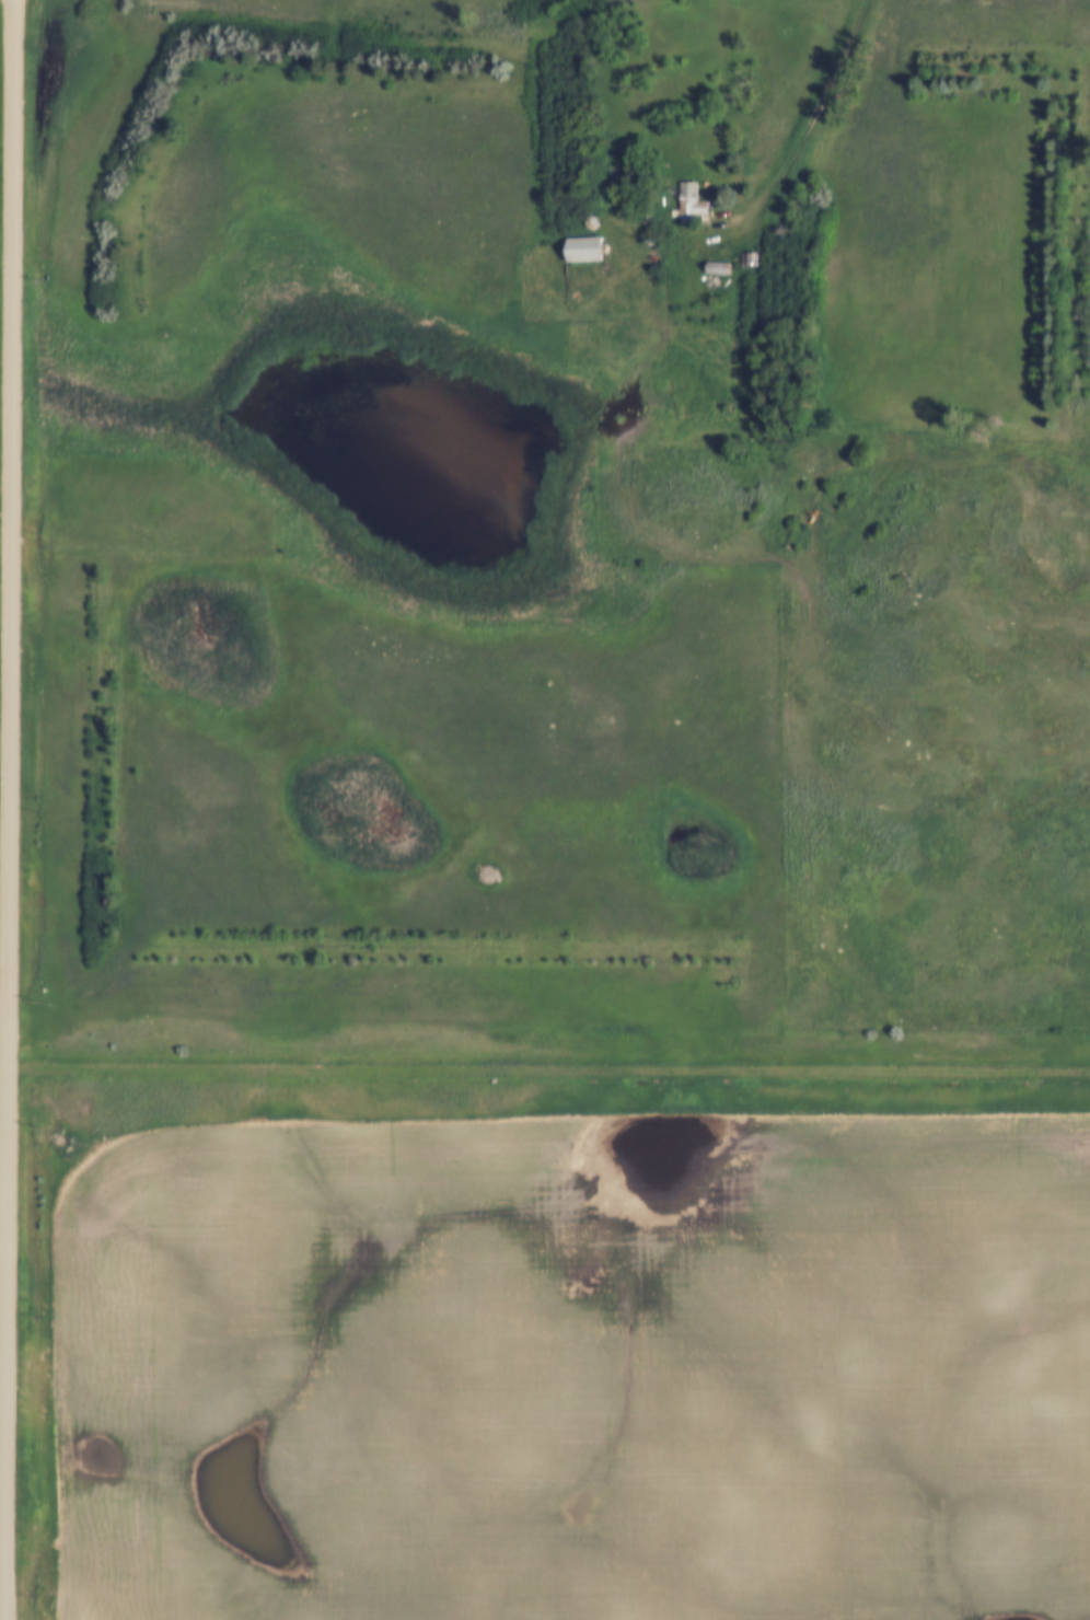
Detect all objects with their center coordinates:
road: (810, 120)
building: (688, 201)
building: (585, 250)
road: (5, 810)
building: (487, 876)

